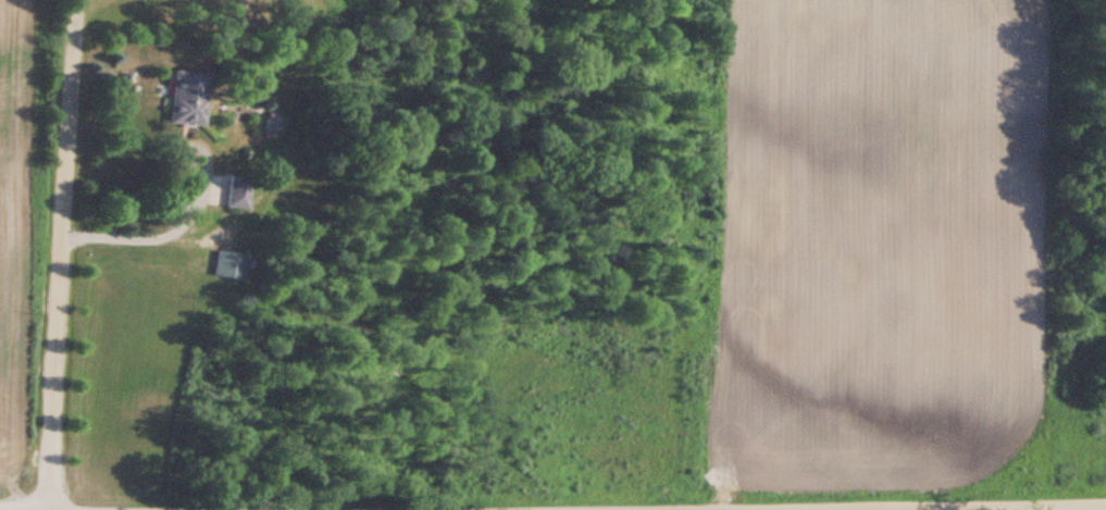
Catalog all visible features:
building: (184, 98)
road: (199, 162)
building: (233, 194)
building: (0, 233)
road: (142, 236)
road: (53, 254)
building: (224, 265)
road: (906, 506)

